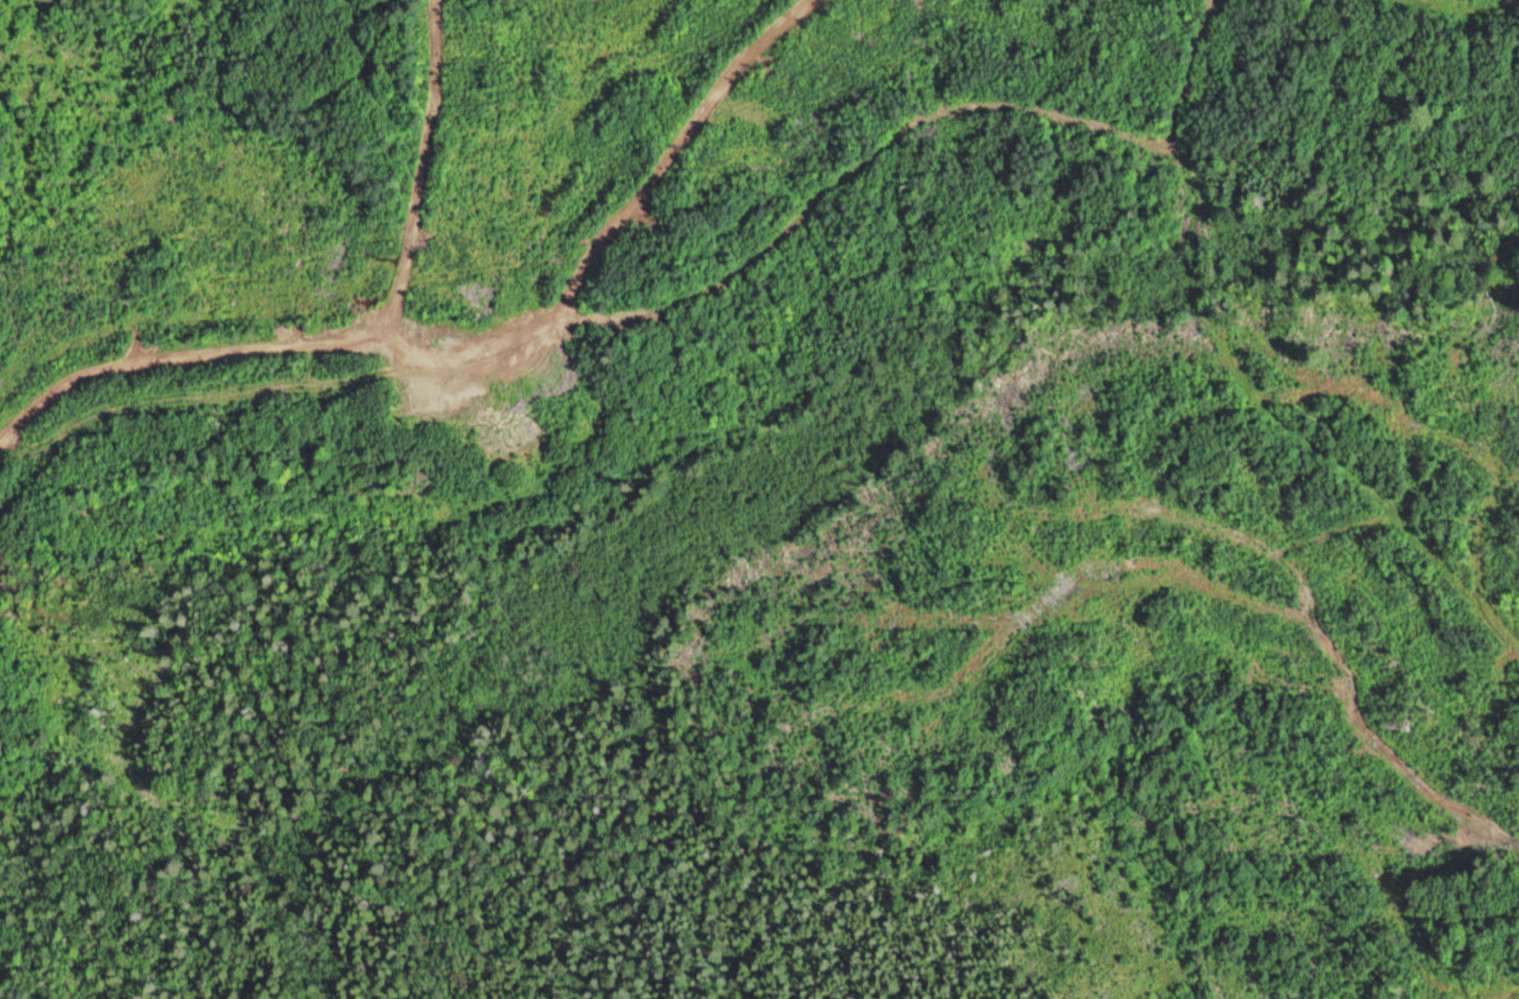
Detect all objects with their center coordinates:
road: (329, 335)

